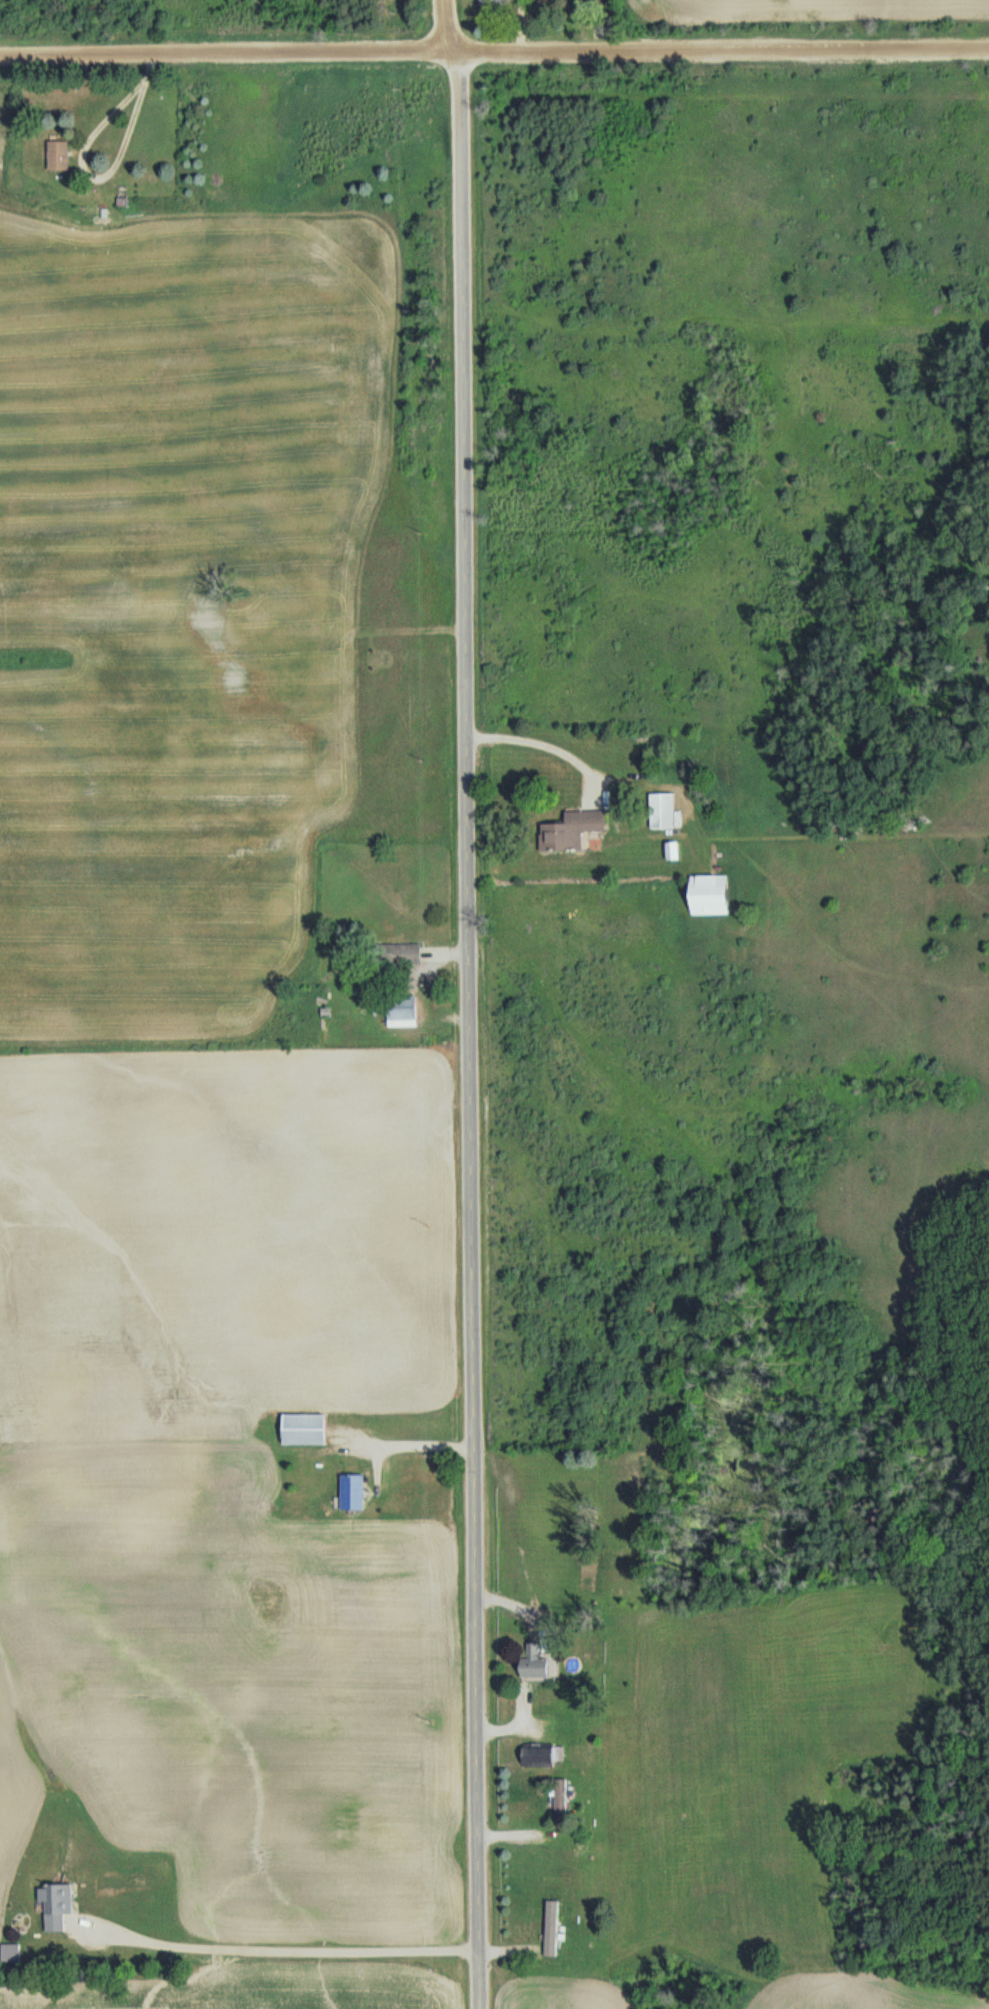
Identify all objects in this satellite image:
building: (494, 4)
road: (448, 24)
road: (494, 49)
building: (61, 156)
building: (664, 811)
building: (573, 830)
building: (712, 896)
building: (400, 955)
building: (404, 1011)
road: (468, 1028)
building: (306, 1431)
building: (354, 1494)
building: (539, 1666)
building: (541, 1758)
building: (60, 1908)
building: (553, 1929)
road: (279, 1947)

